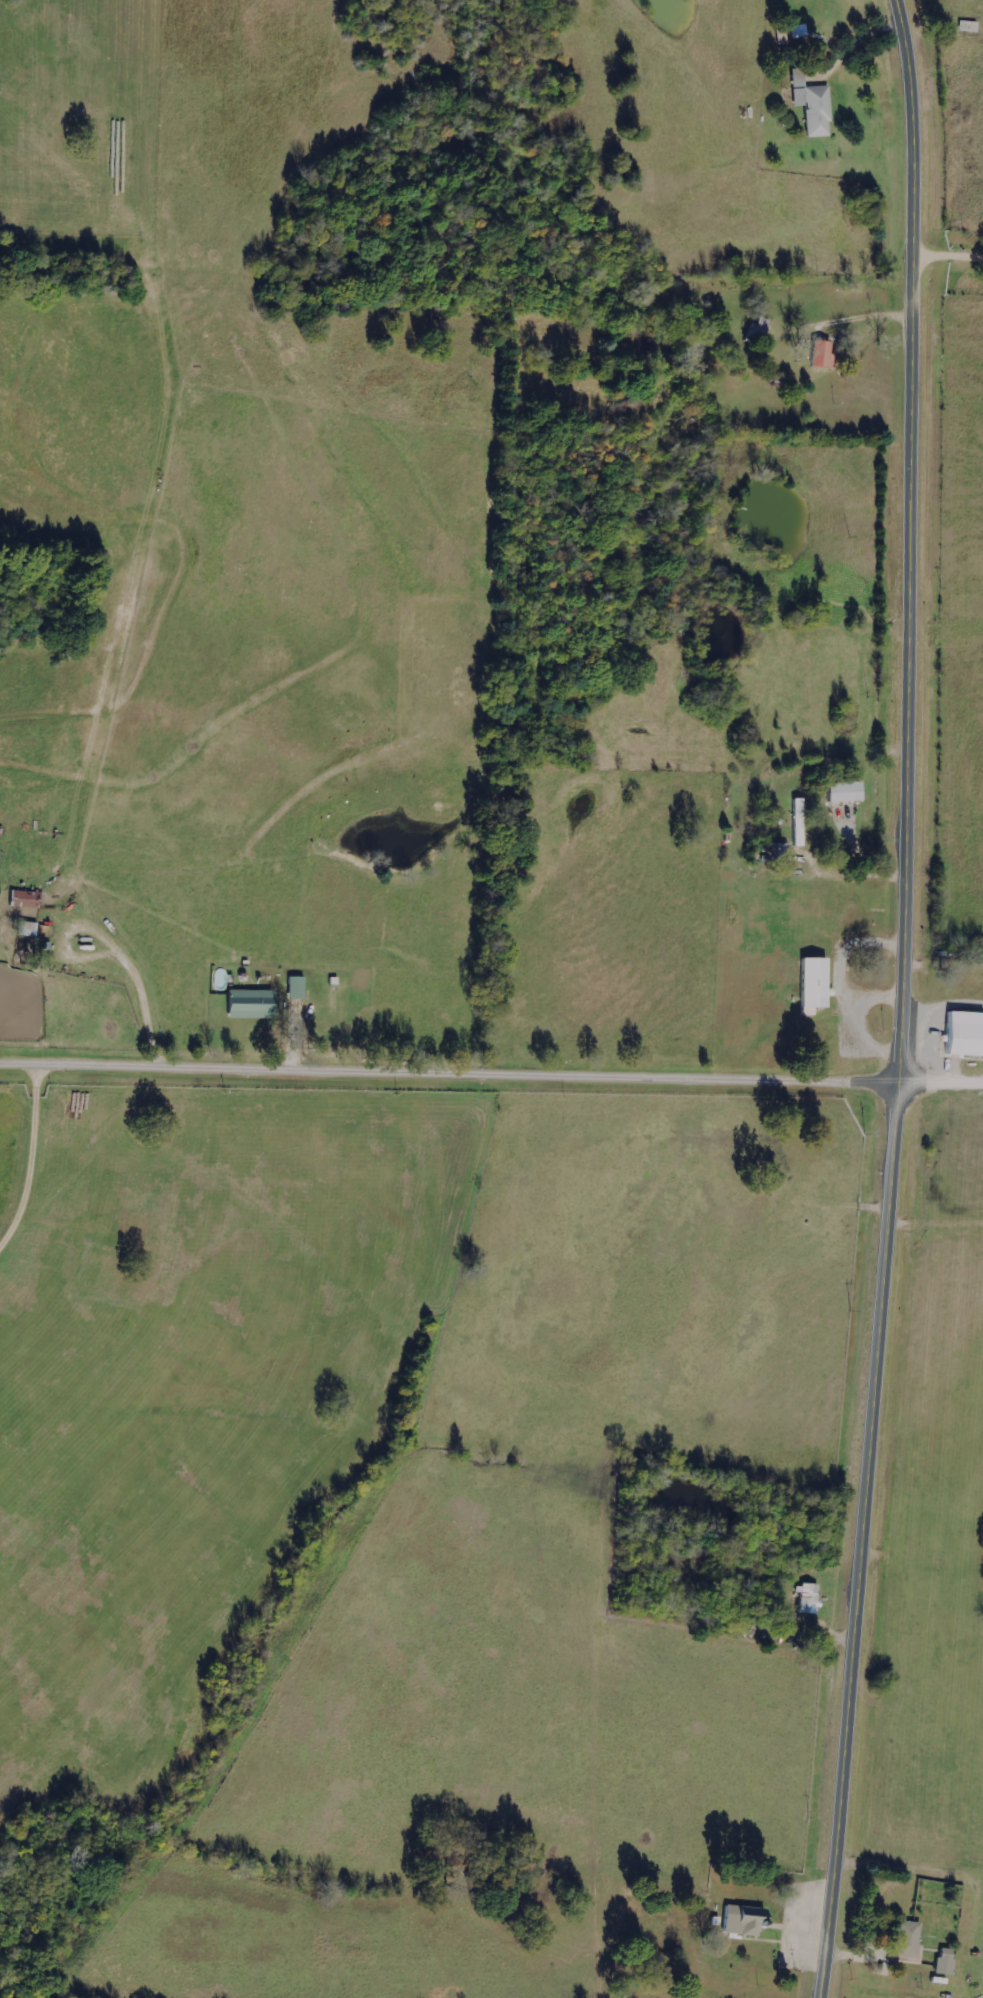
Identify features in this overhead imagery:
building: (811, 105)
road: (952, 249)
building: (756, 332)
building: (821, 355)
building: (842, 793)
building: (25, 899)
building: (27, 929)
building: (813, 982)
building: (295, 988)
road: (906, 999)
building: (249, 1004)
building: (964, 1034)
road: (451, 1061)
road: (942, 1082)
road: (102, 1176)
building: (808, 1600)
building: (742, 1920)
building: (908, 1942)
building: (944, 1962)

